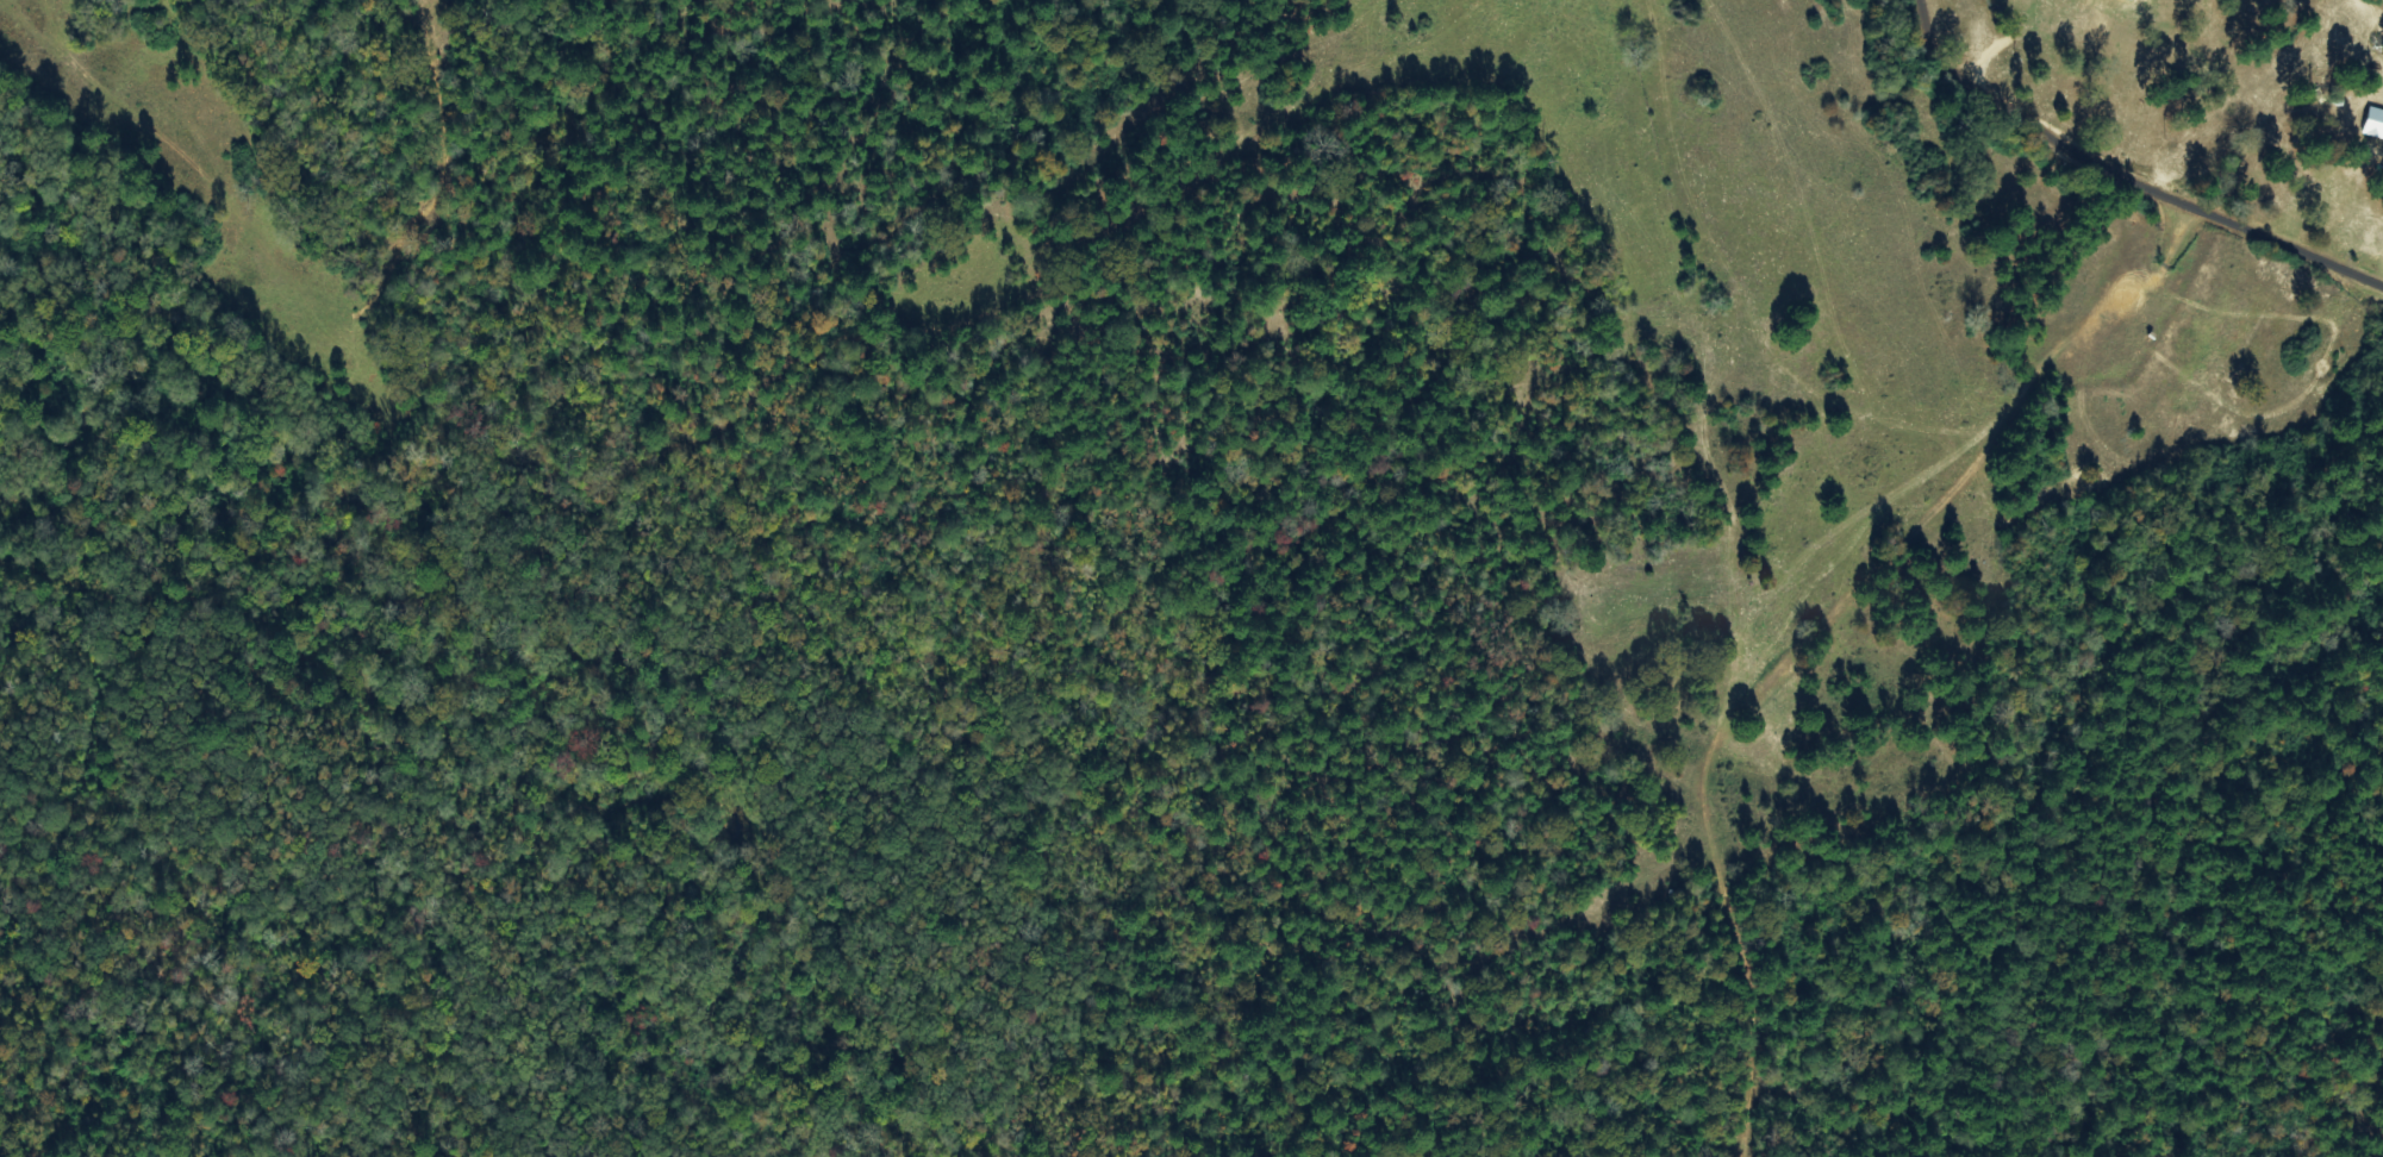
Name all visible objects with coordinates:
building: (2370, 124)
road: (2098, 206)

